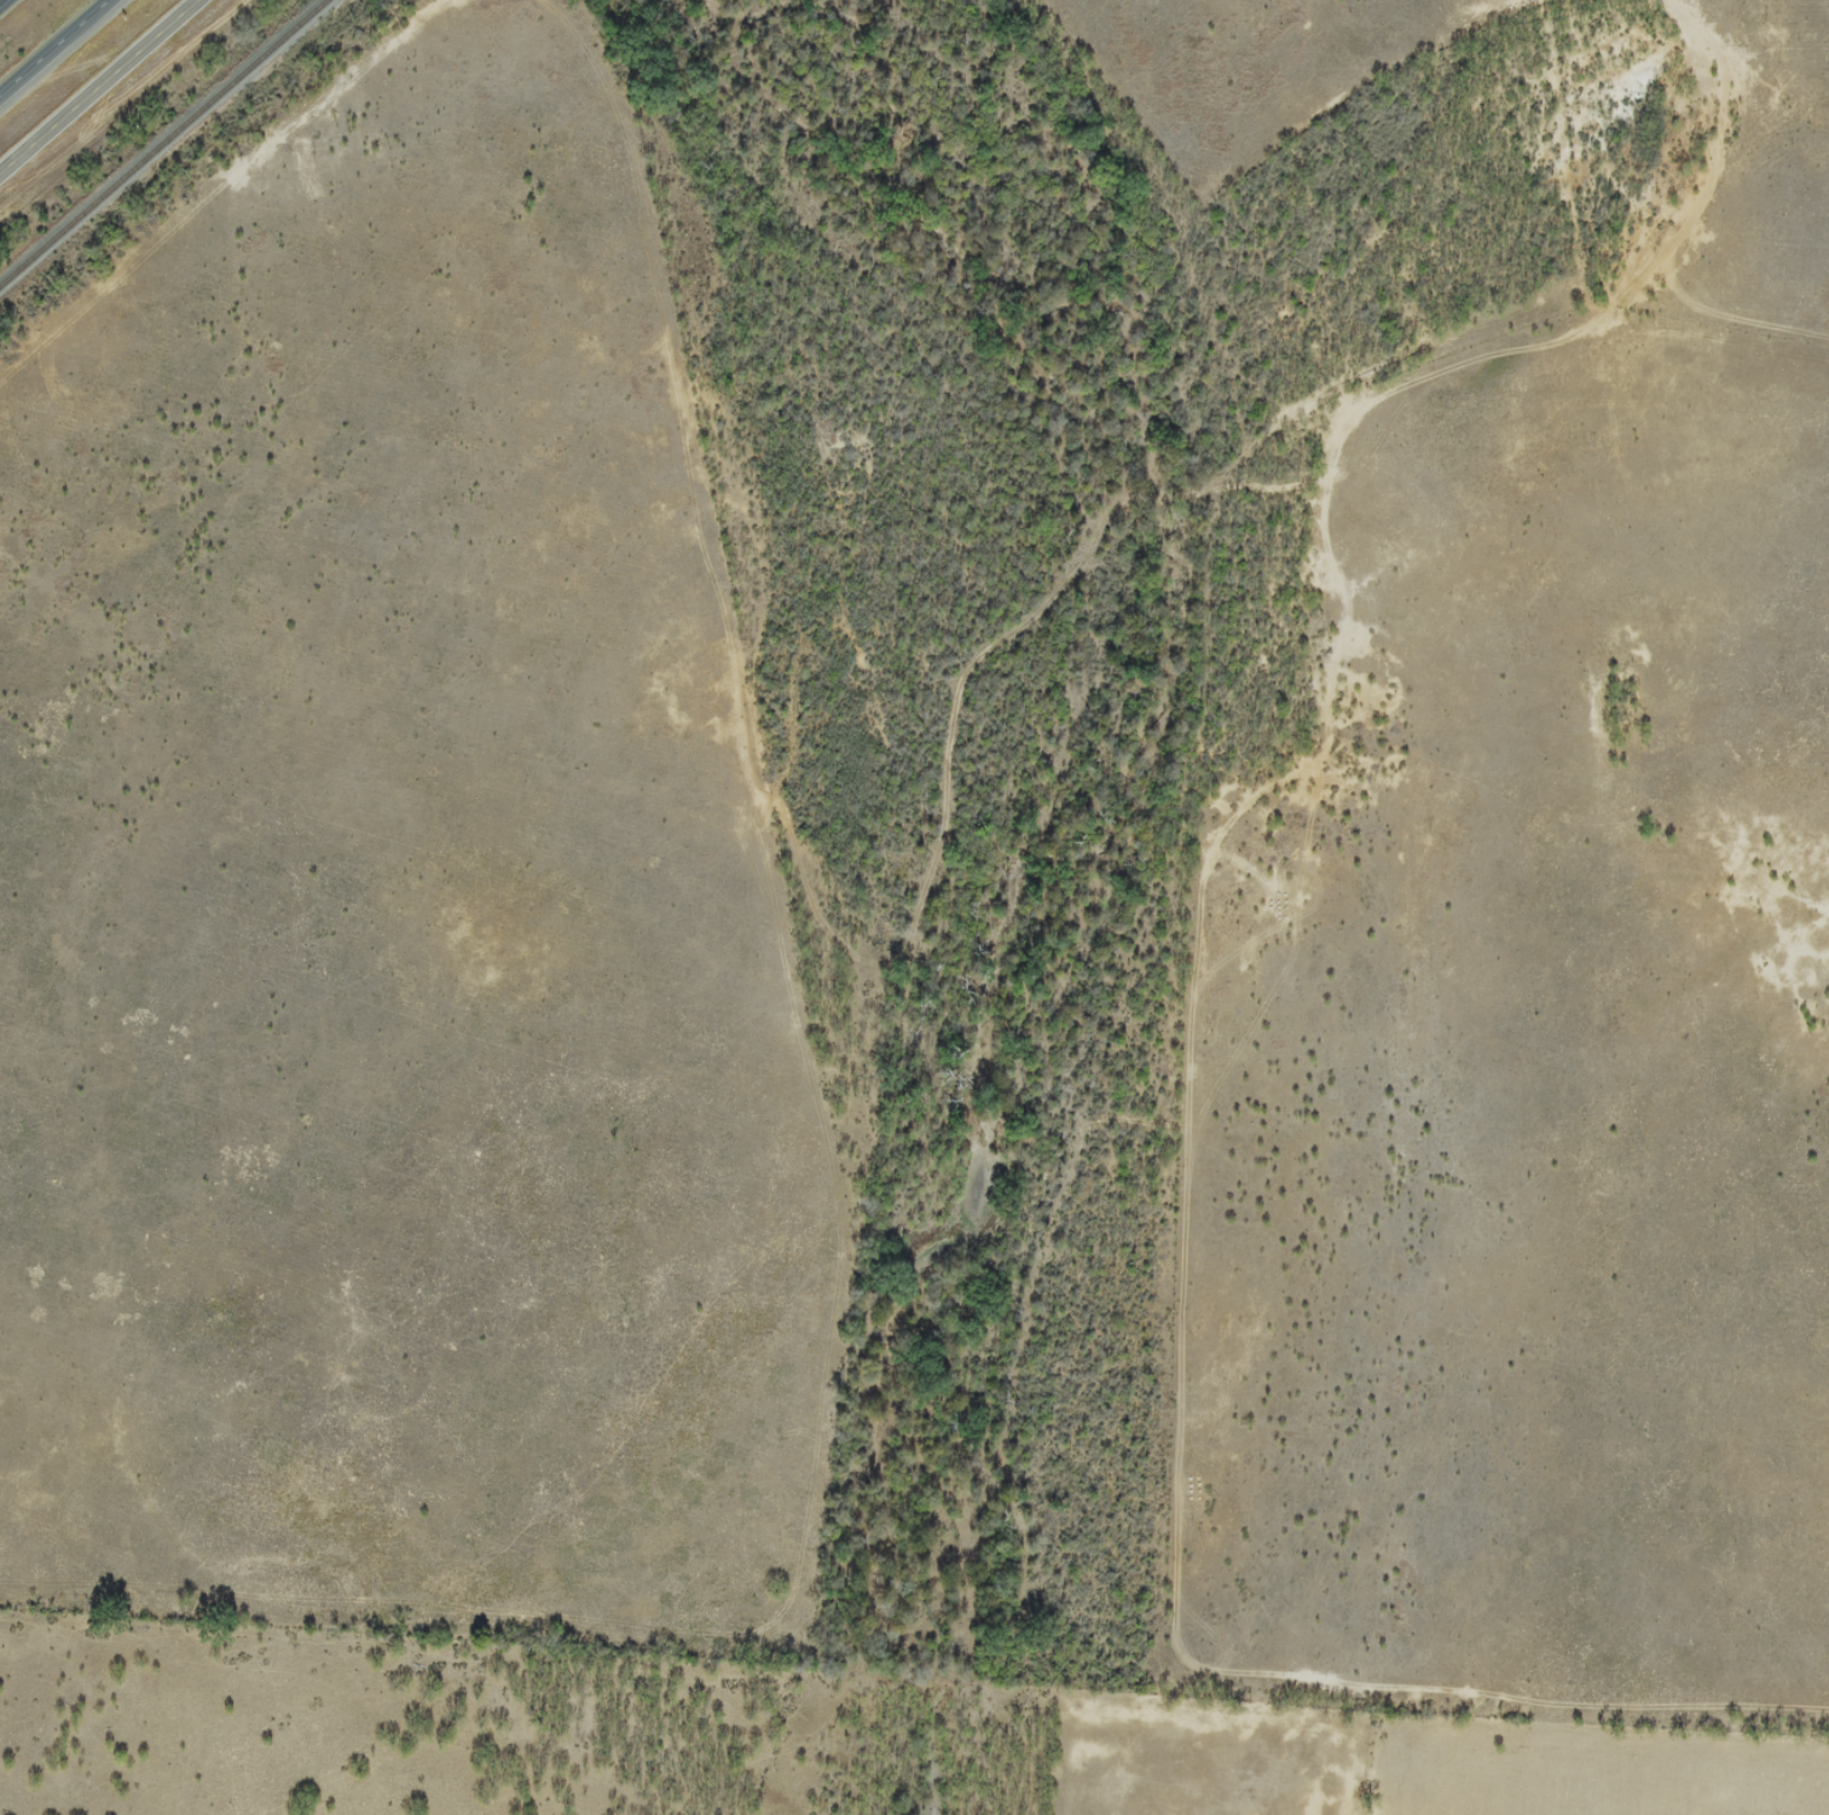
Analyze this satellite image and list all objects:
road: (53, 47)
road: (95, 83)
railway: (163, 143)

